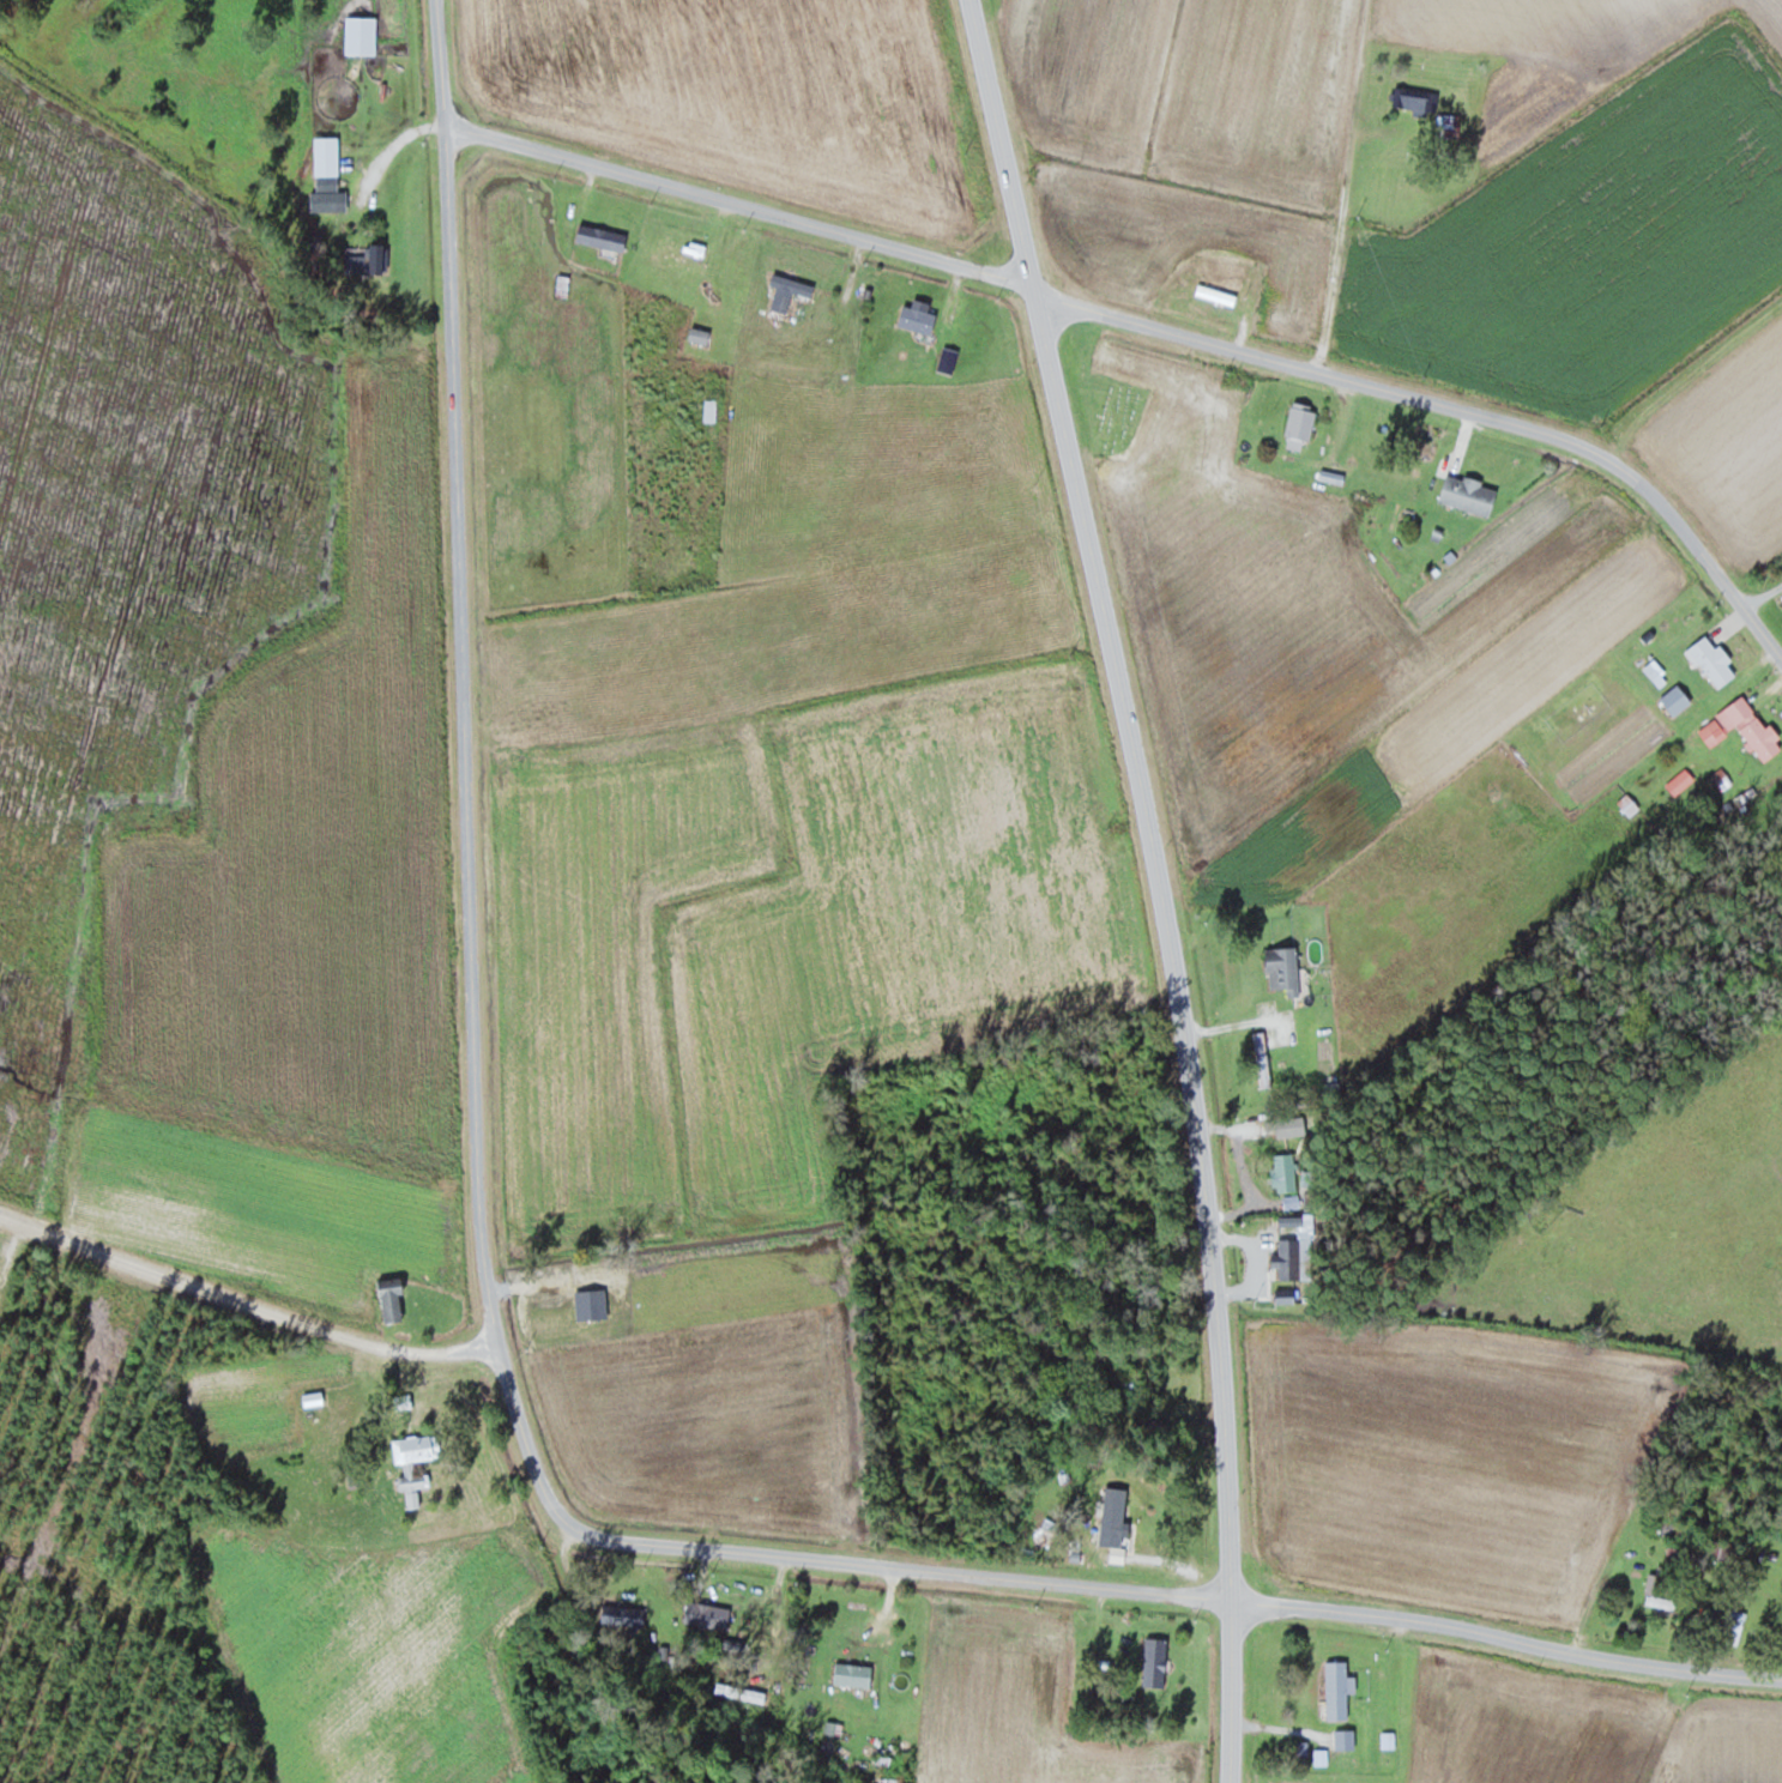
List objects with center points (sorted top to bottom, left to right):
building: (362, 34)
building: (1419, 98)
building: (1449, 127)
building: (325, 171)
building: (684, 256)
building: (564, 285)
building: (789, 290)
building: (1215, 294)
building: (918, 318)
road: (1158, 326)
building: (711, 410)
building: (1300, 425)
building: (1469, 494)
road: (1775, 634)
building: (1714, 659)
building: (1677, 699)
road: (464, 700)
building: (1751, 726)
building: (1680, 781)
building: (1629, 804)
road: (1160, 883)
building: (1283, 968)
building: (1288, 1172)
building: (392, 1299)
building: (1125, 1378)
building: (318, 1416)
building: (417, 1447)
building: (416, 1487)
building: (1123, 1528)
building: (1722, 1552)
road: (832, 1569)
building: (1665, 1598)
building: (717, 1612)
building: (624, 1614)
building: (1734, 1625)
building: (515, 1626)
building: (1156, 1661)
building: (854, 1674)
building: (1337, 1688)
building: (1346, 1737)

